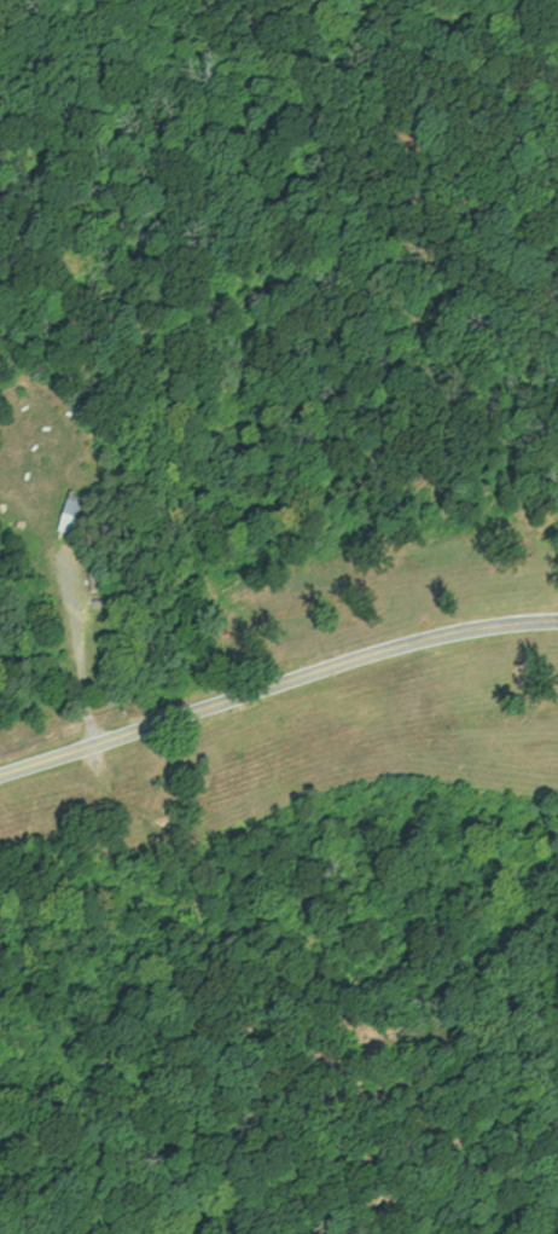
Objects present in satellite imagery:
building: (65, 515)
road: (275, 690)

